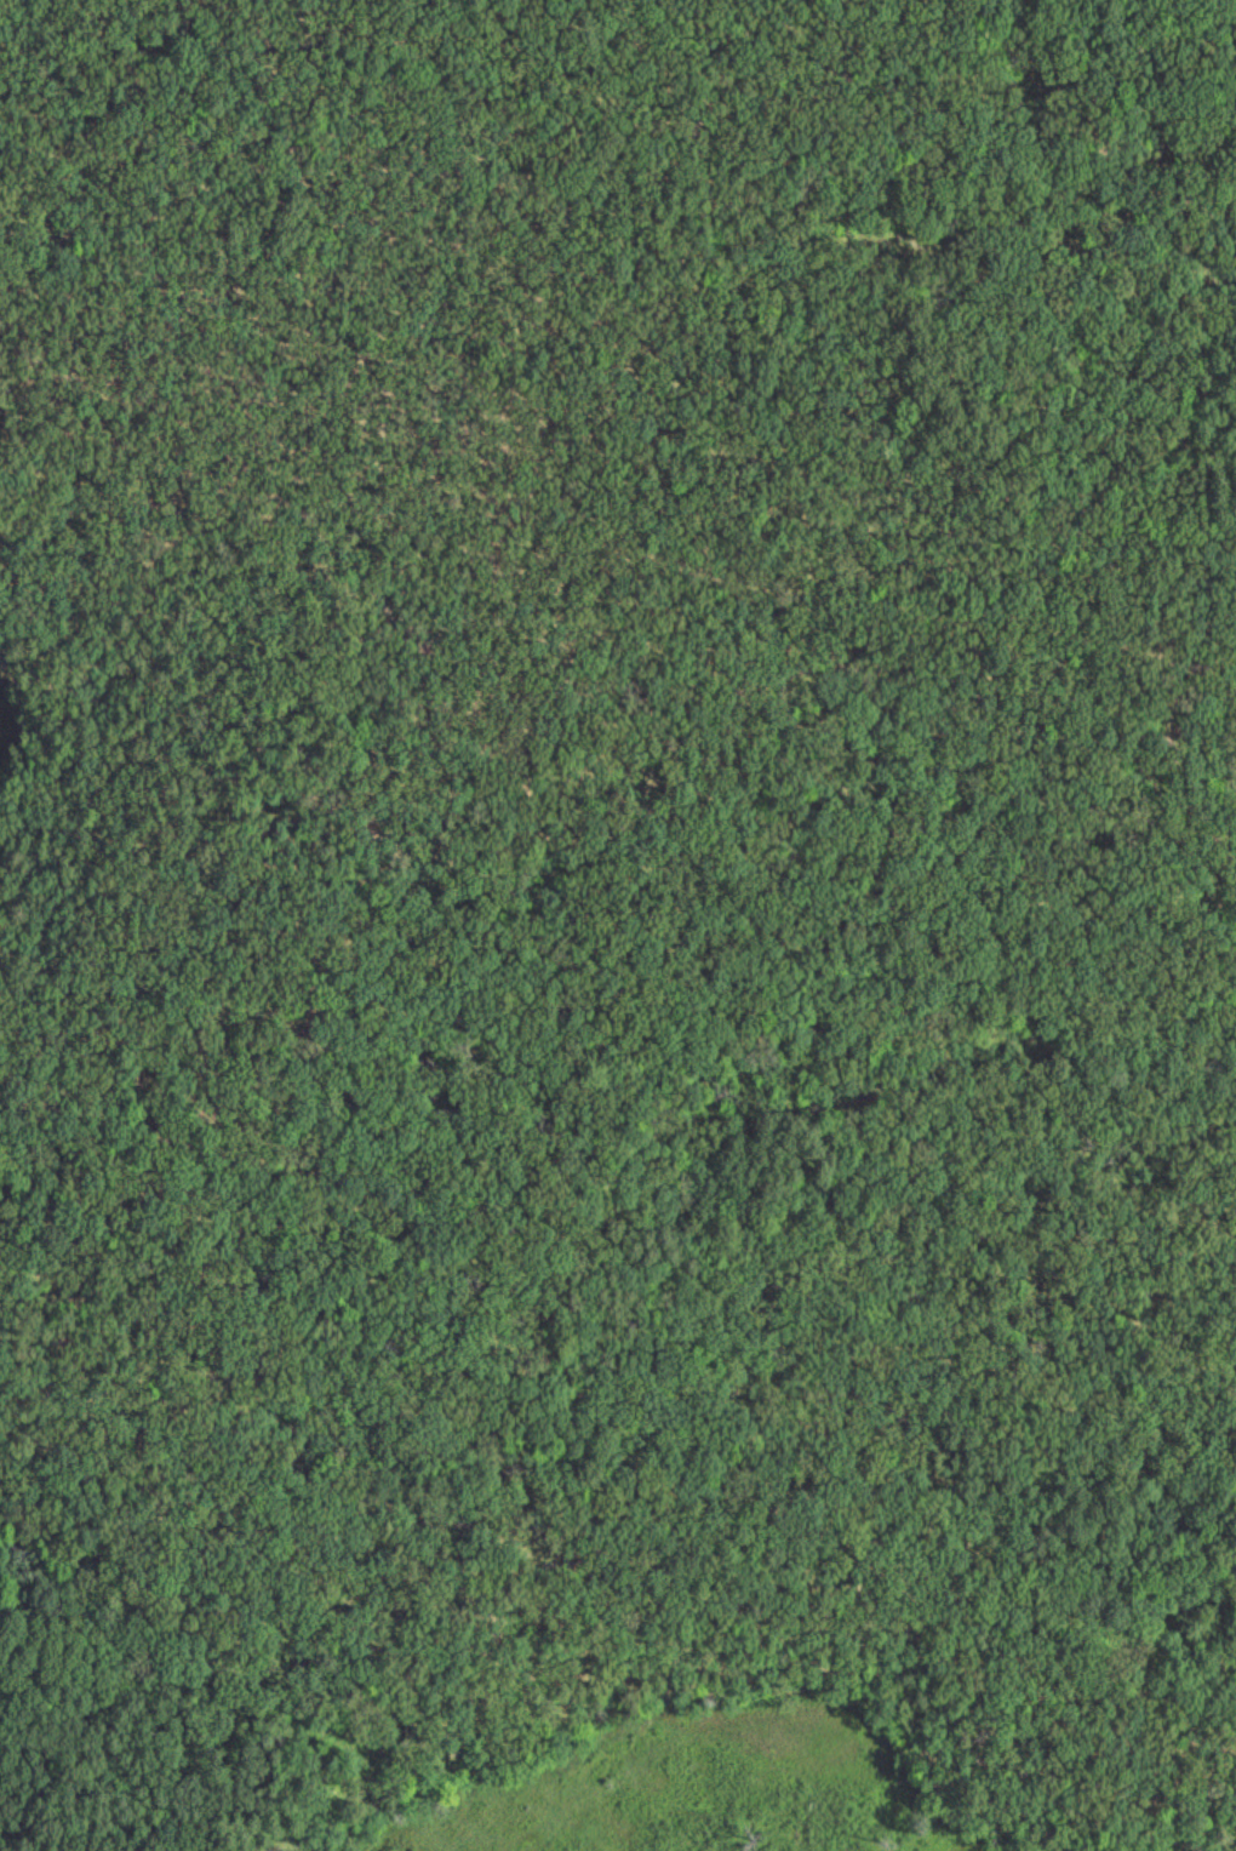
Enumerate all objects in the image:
road: (622, 345)

